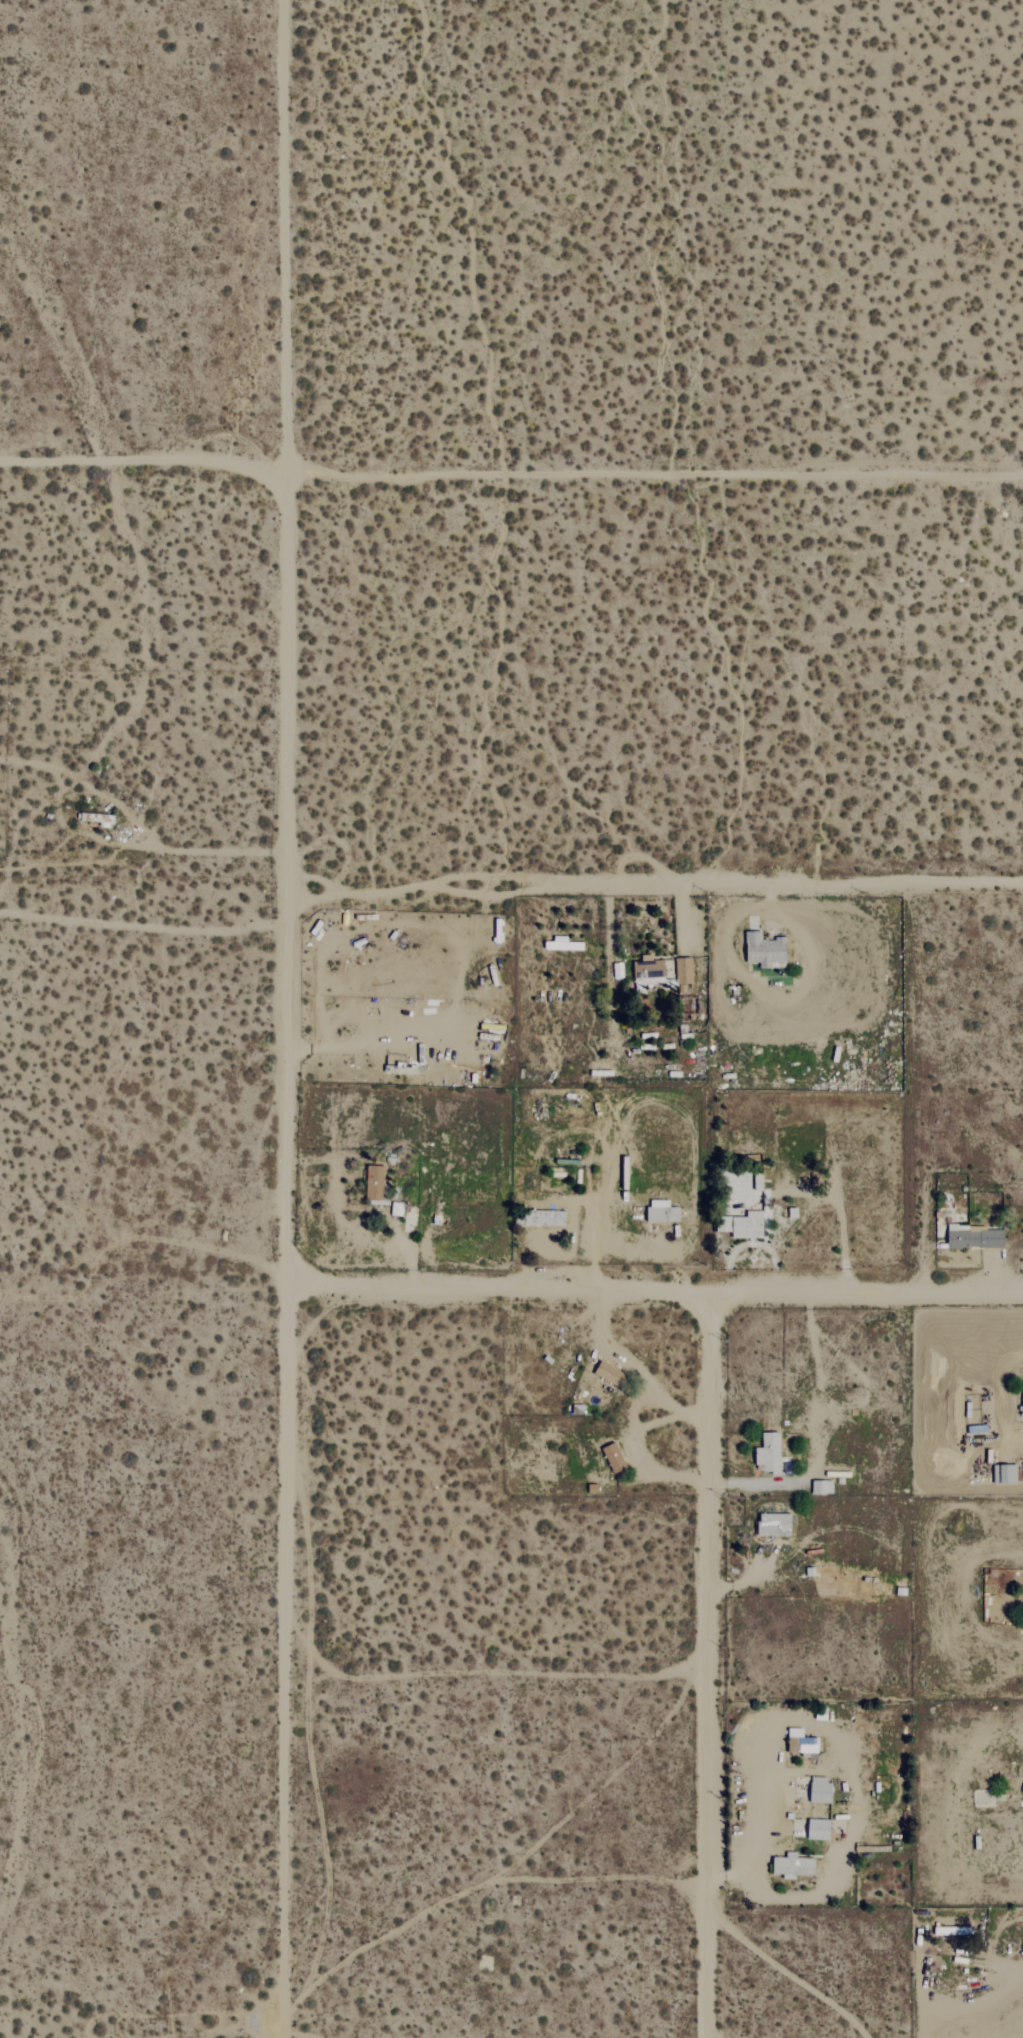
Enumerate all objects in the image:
road: (511, 470)
road: (141, 826)
road: (660, 889)
road: (148, 924)
building: (560, 944)
building: (765, 949)
building: (684, 970)
building: (649, 971)
road: (296, 1019)
building: (375, 1182)
building: (397, 1208)
building: (662, 1212)
building: (975, 1237)
road: (659, 1295)
road: (638, 1371)
building: (609, 1374)
building: (1022, 1412)
road: (1000, 1417)
road: (818, 1435)
building: (769, 1454)
building: (614, 1458)
road: (640, 1458)
building: (1005, 1474)
building: (822, 1487)
building: (774, 1524)
road: (708, 1667)
building: (801, 1742)
building: (820, 1790)
building: (819, 1829)
building: (793, 1866)
road: (1007, 1964)
road: (786, 1970)

